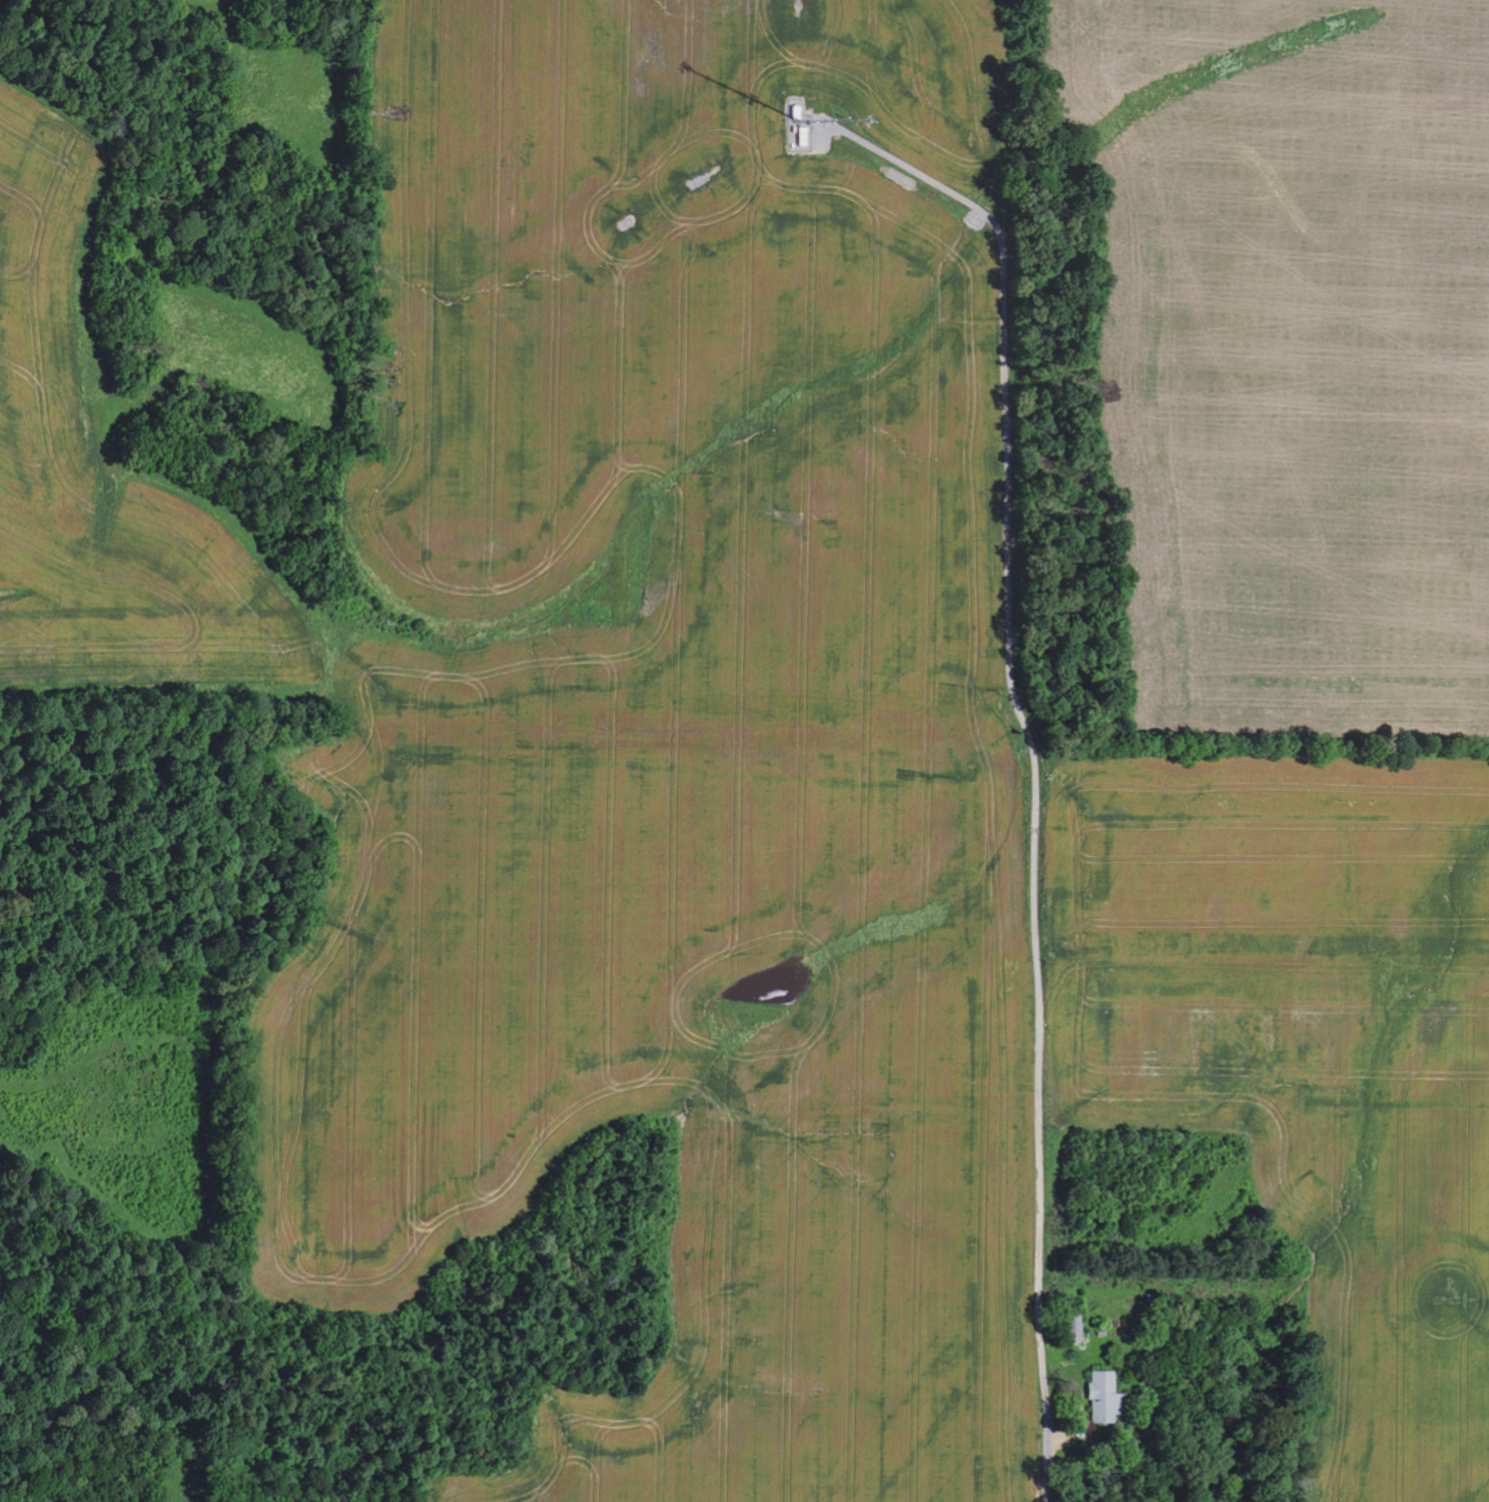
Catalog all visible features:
road: (1048, 1461)

